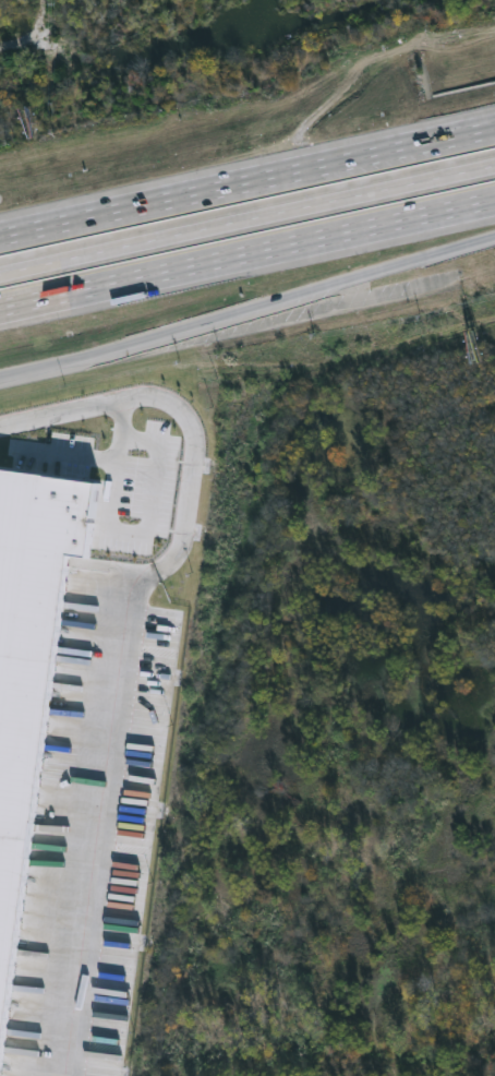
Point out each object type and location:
road: (247, 181)
road: (247, 219)
road: (247, 252)
road: (247, 307)
road: (71, 459)
road: (120, 531)
road: (129, 635)

